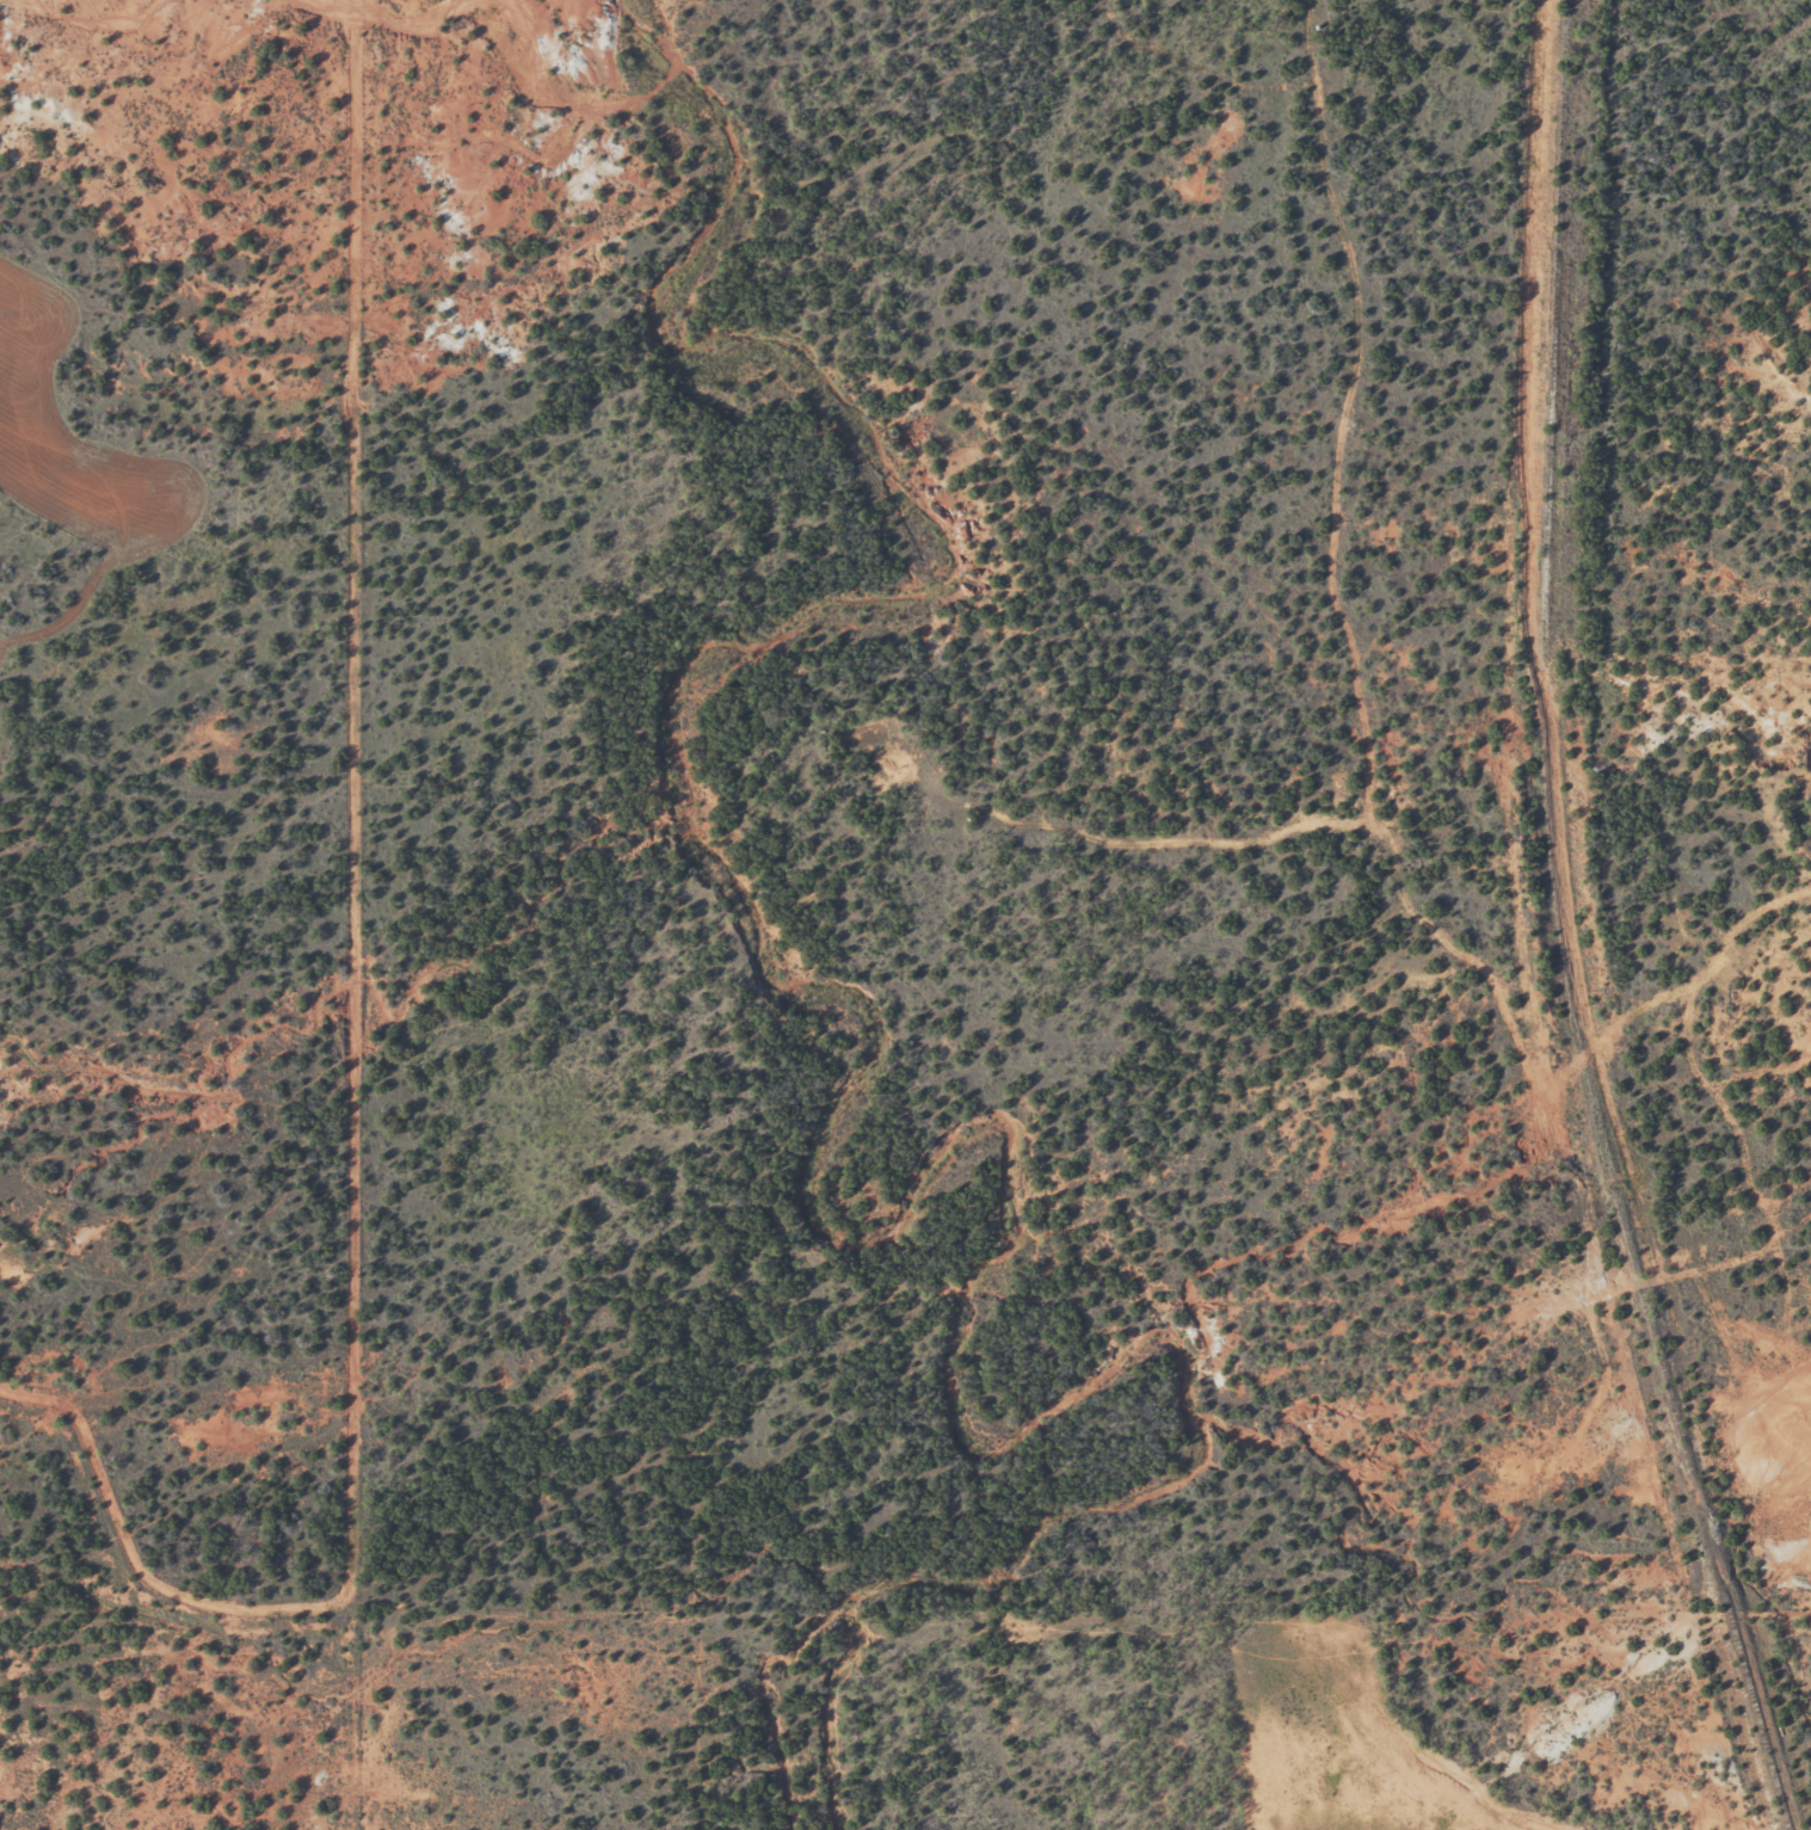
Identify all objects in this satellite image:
railway: (1575, 928)

